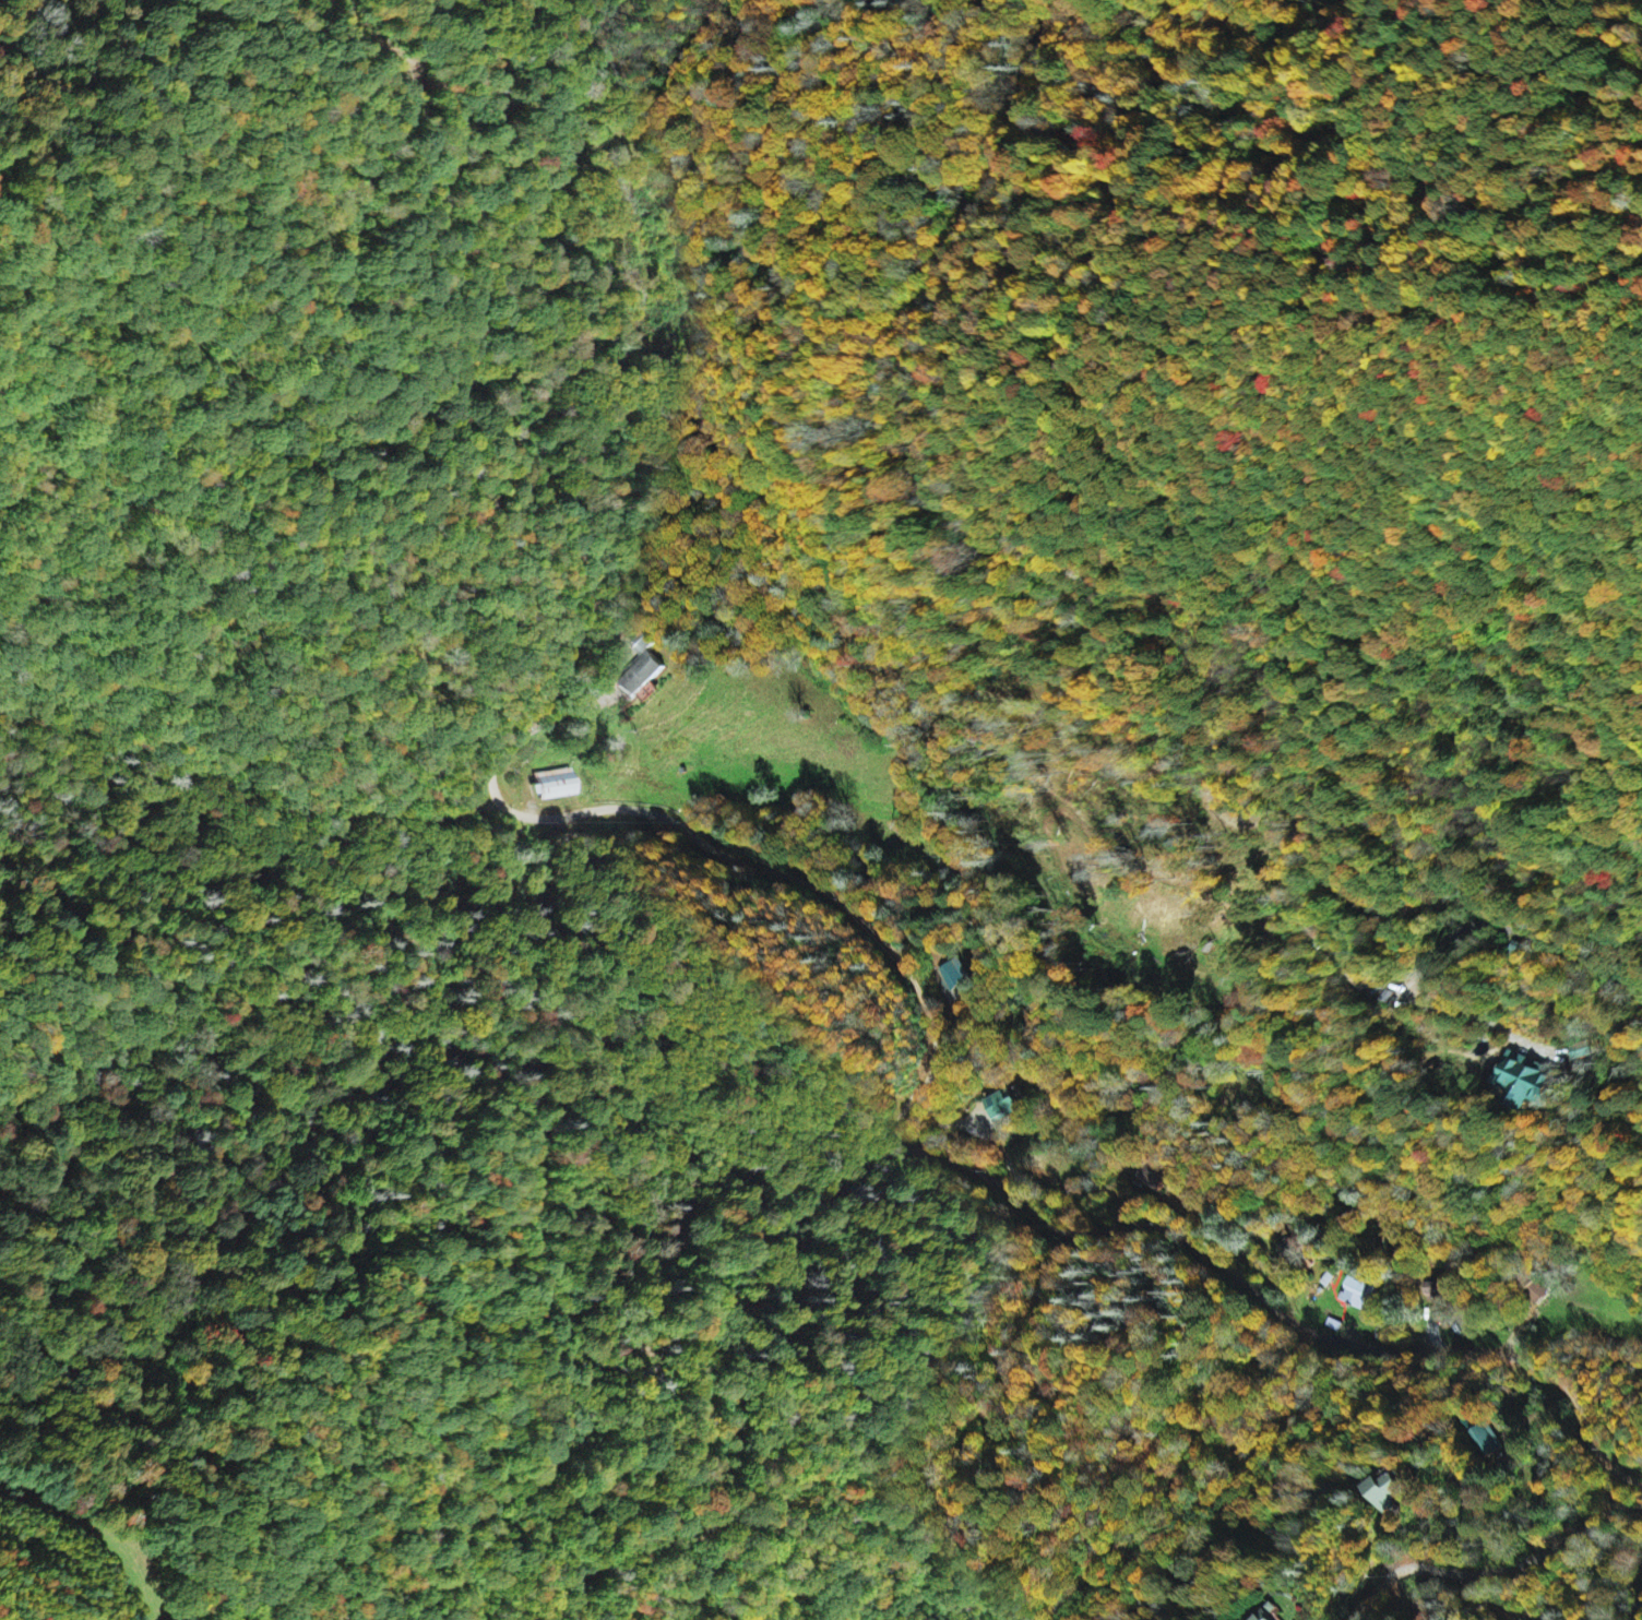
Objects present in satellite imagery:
road: (465, 286)
road: (1088, 580)
building: (639, 676)
building: (561, 787)
building: (955, 975)
building: (1366, 981)
building: (1525, 1082)
building: (1007, 1105)
building: (1157, 1177)
road: (1016, 1210)
building: (1358, 1295)
building: (1387, 1491)
road: (86, 1536)
road: (1492, 1571)
building: (1266, 1616)

